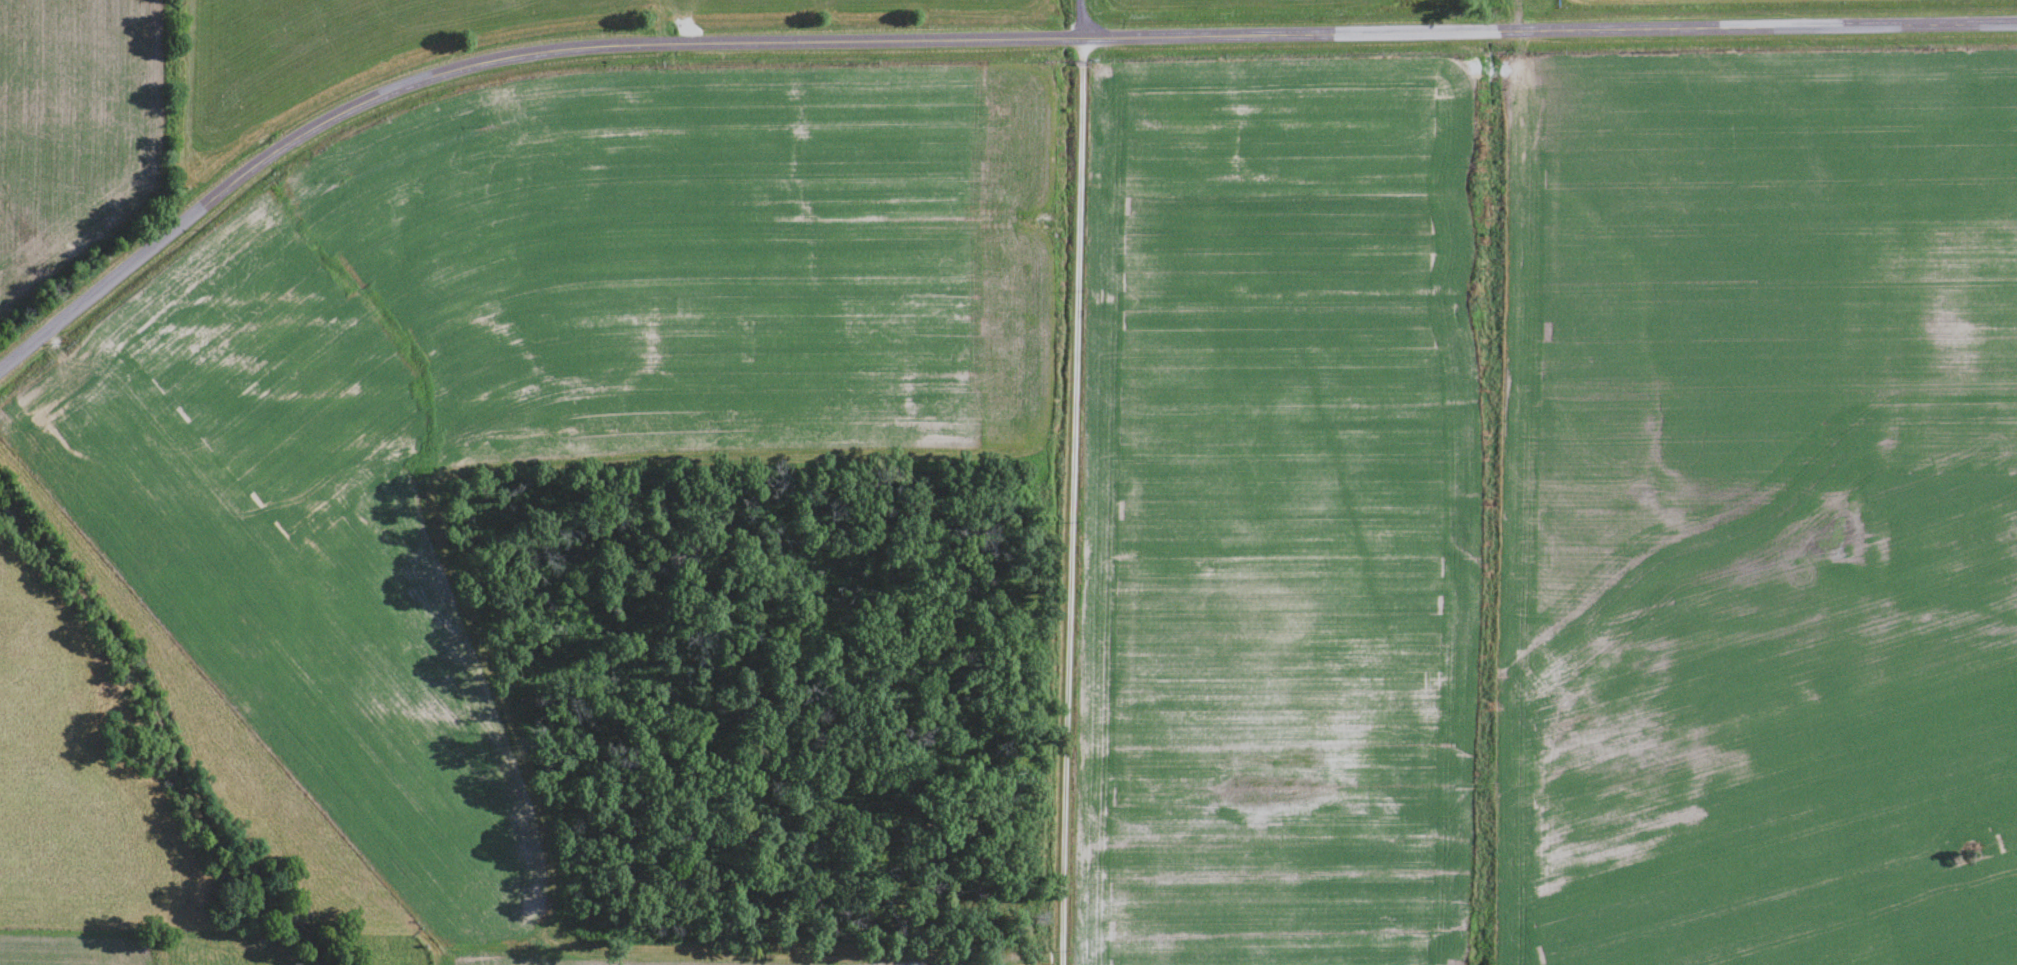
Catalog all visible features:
road: (960, 36)
road: (1073, 482)

